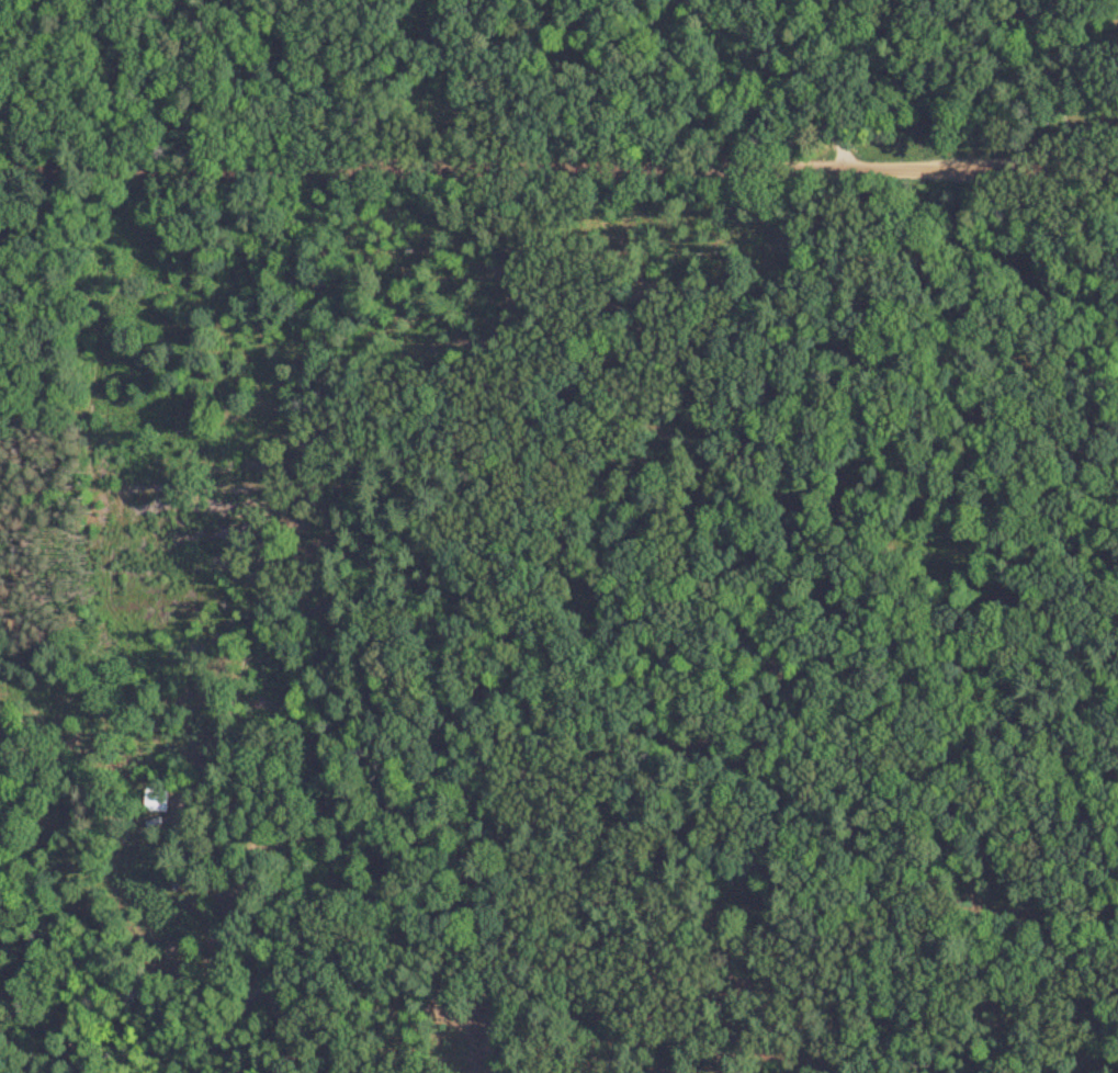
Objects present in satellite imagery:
road: (787, 61)
road: (1046, 68)
road: (560, 137)
building: (161, 801)

